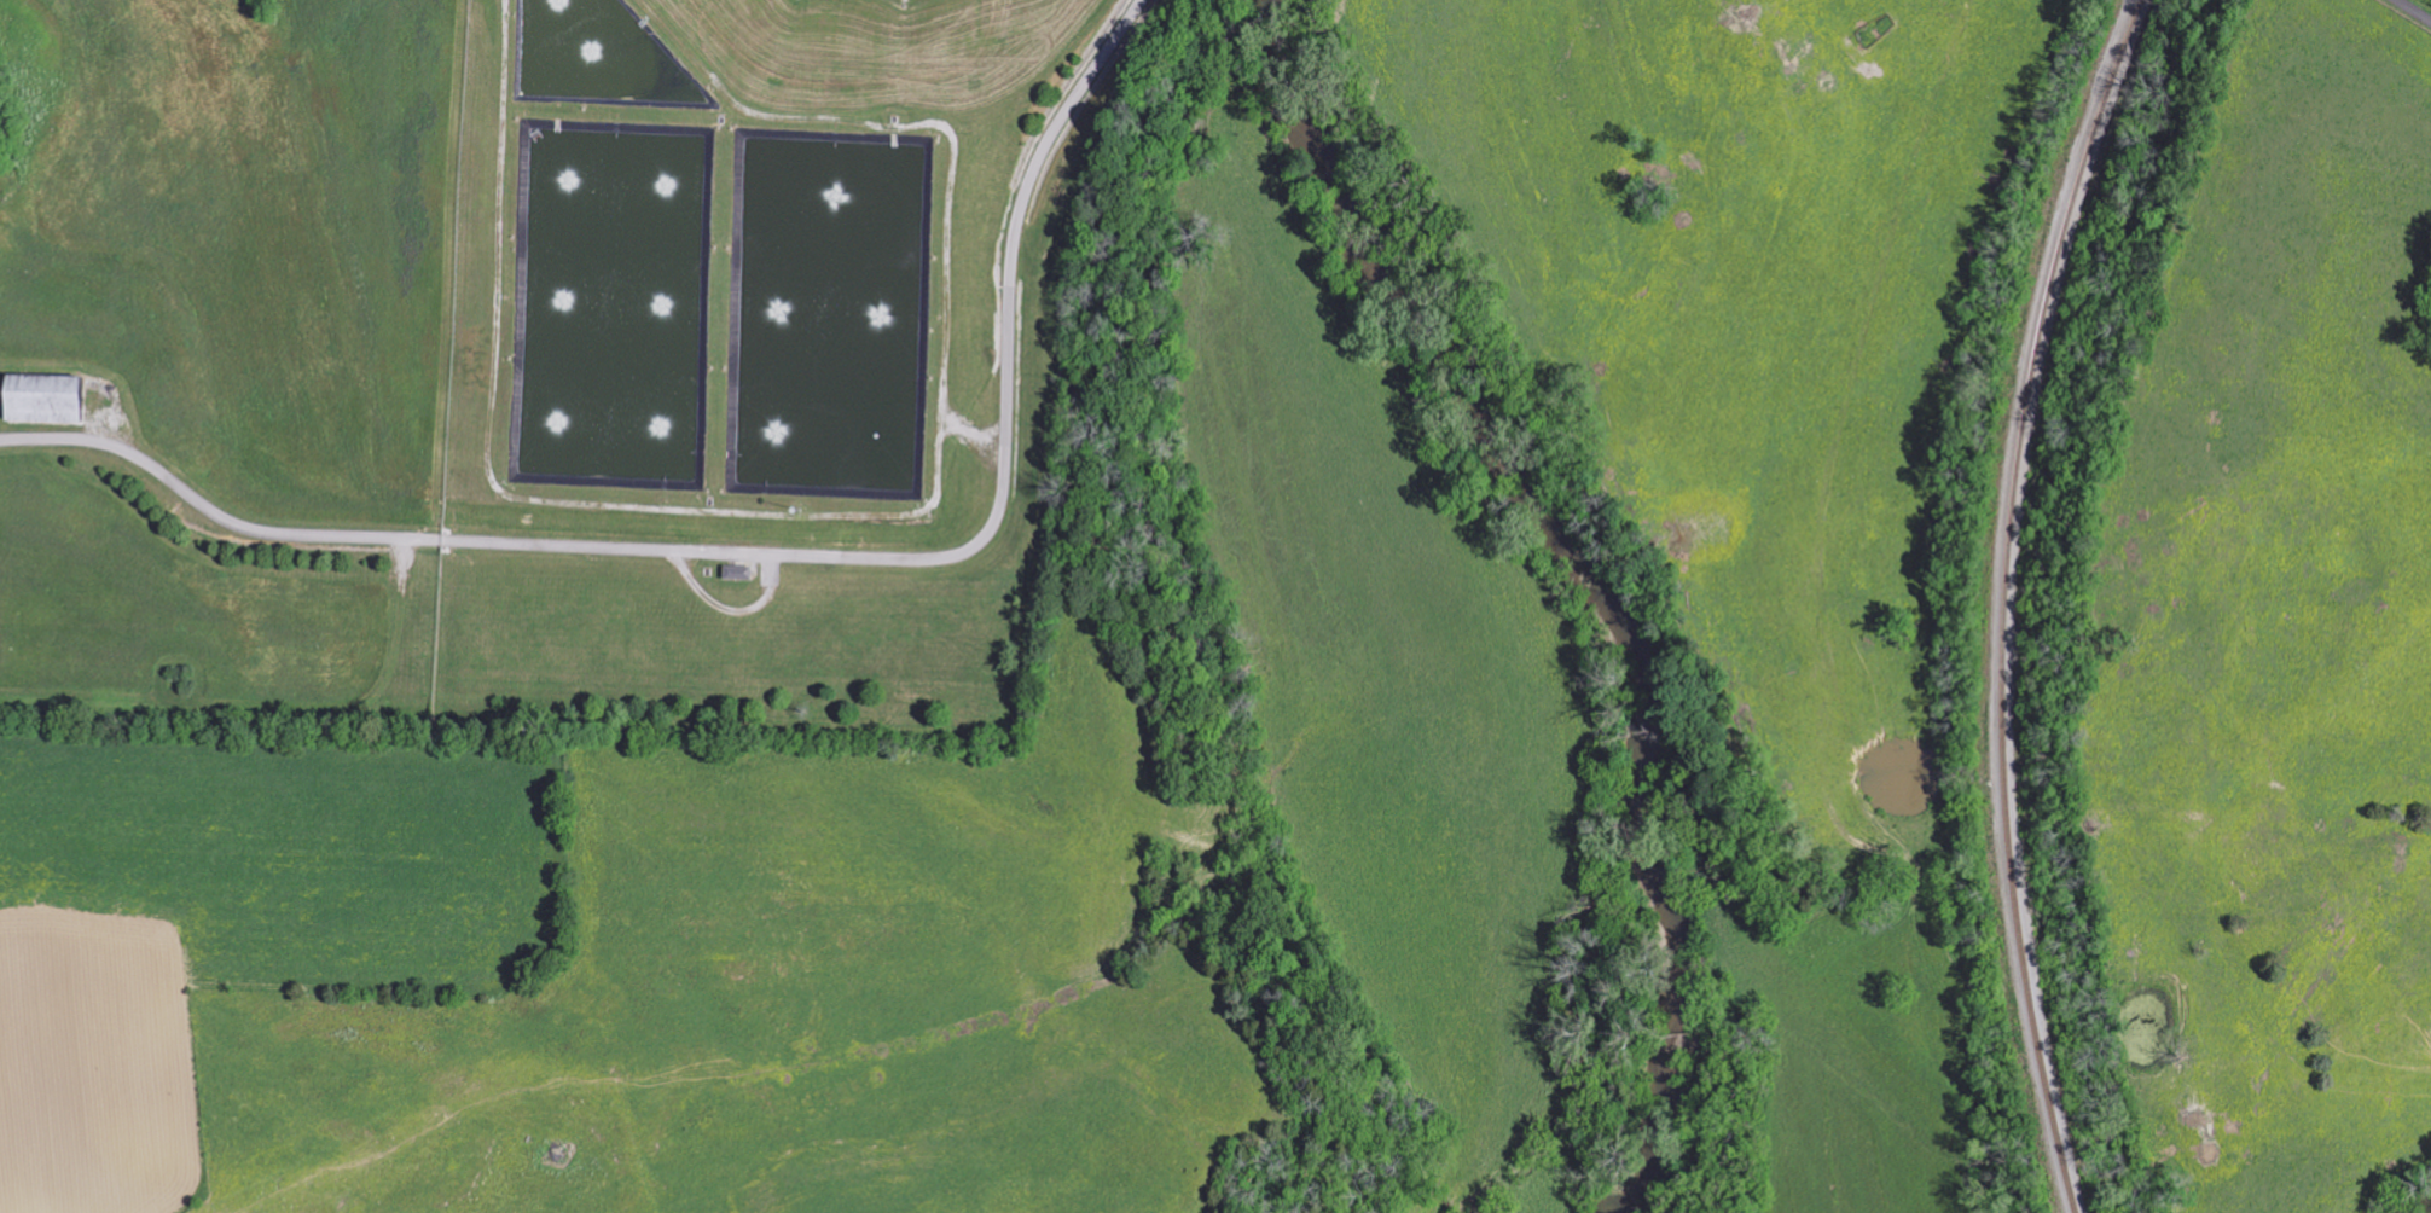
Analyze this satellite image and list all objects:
road: (2417, 10)
wastewater plant: (762, 350)
road: (772, 556)
railway: (2007, 599)
road: (730, 611)

